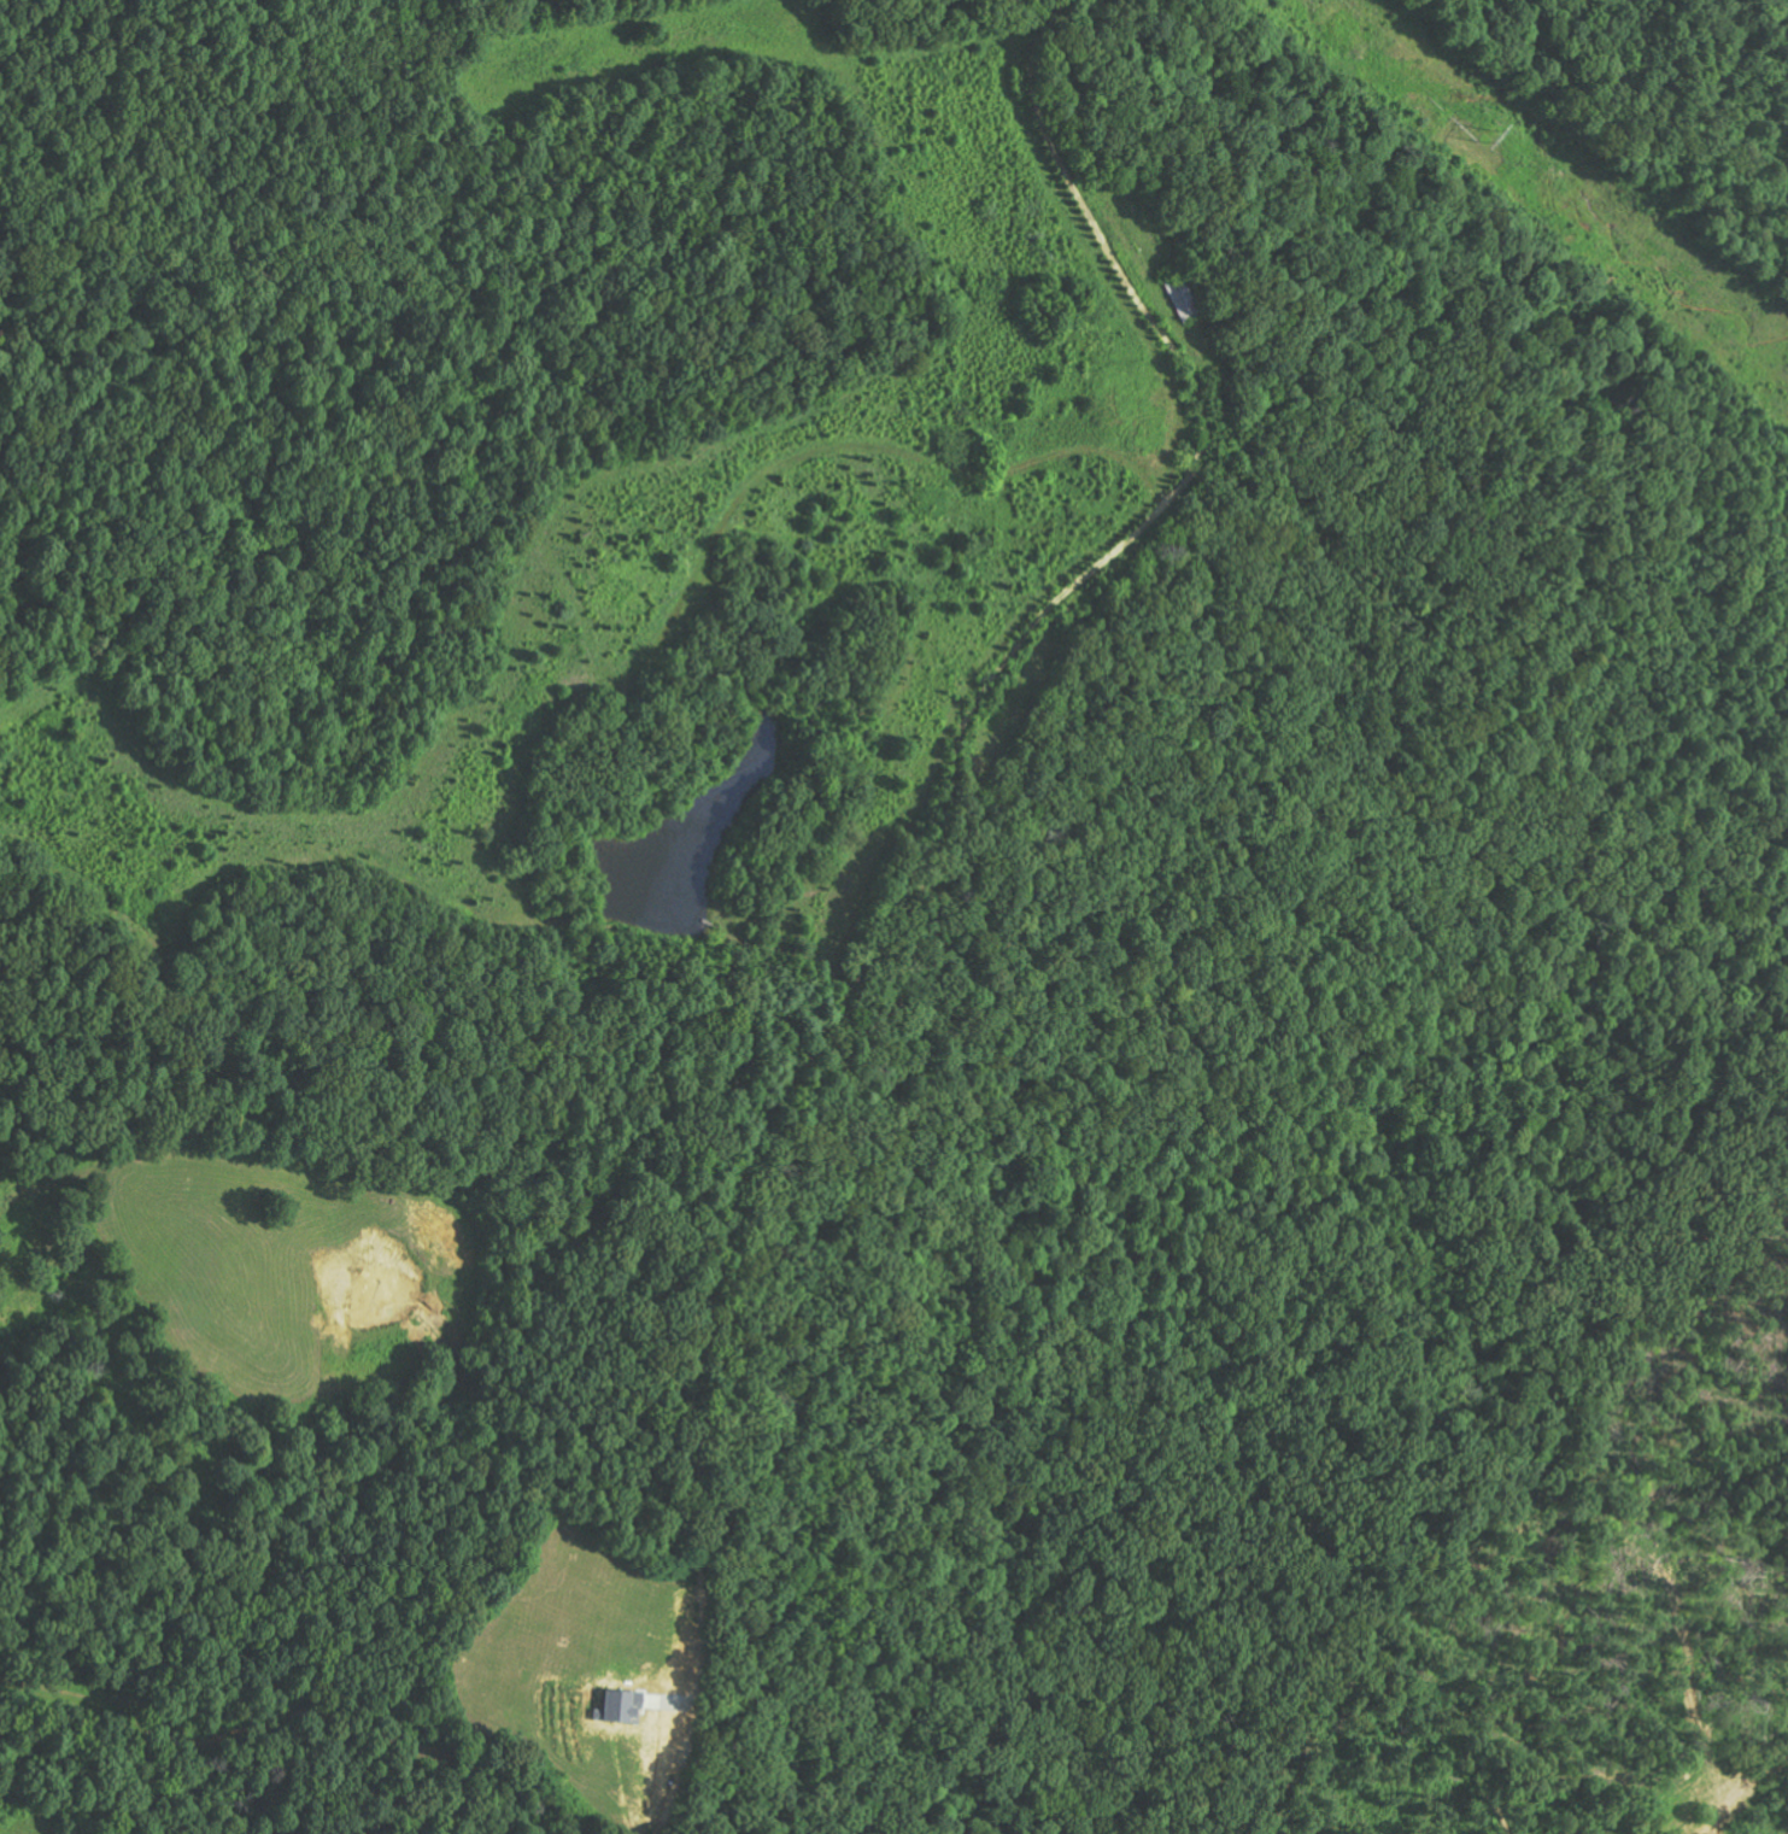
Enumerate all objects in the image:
road: (903, 873)

